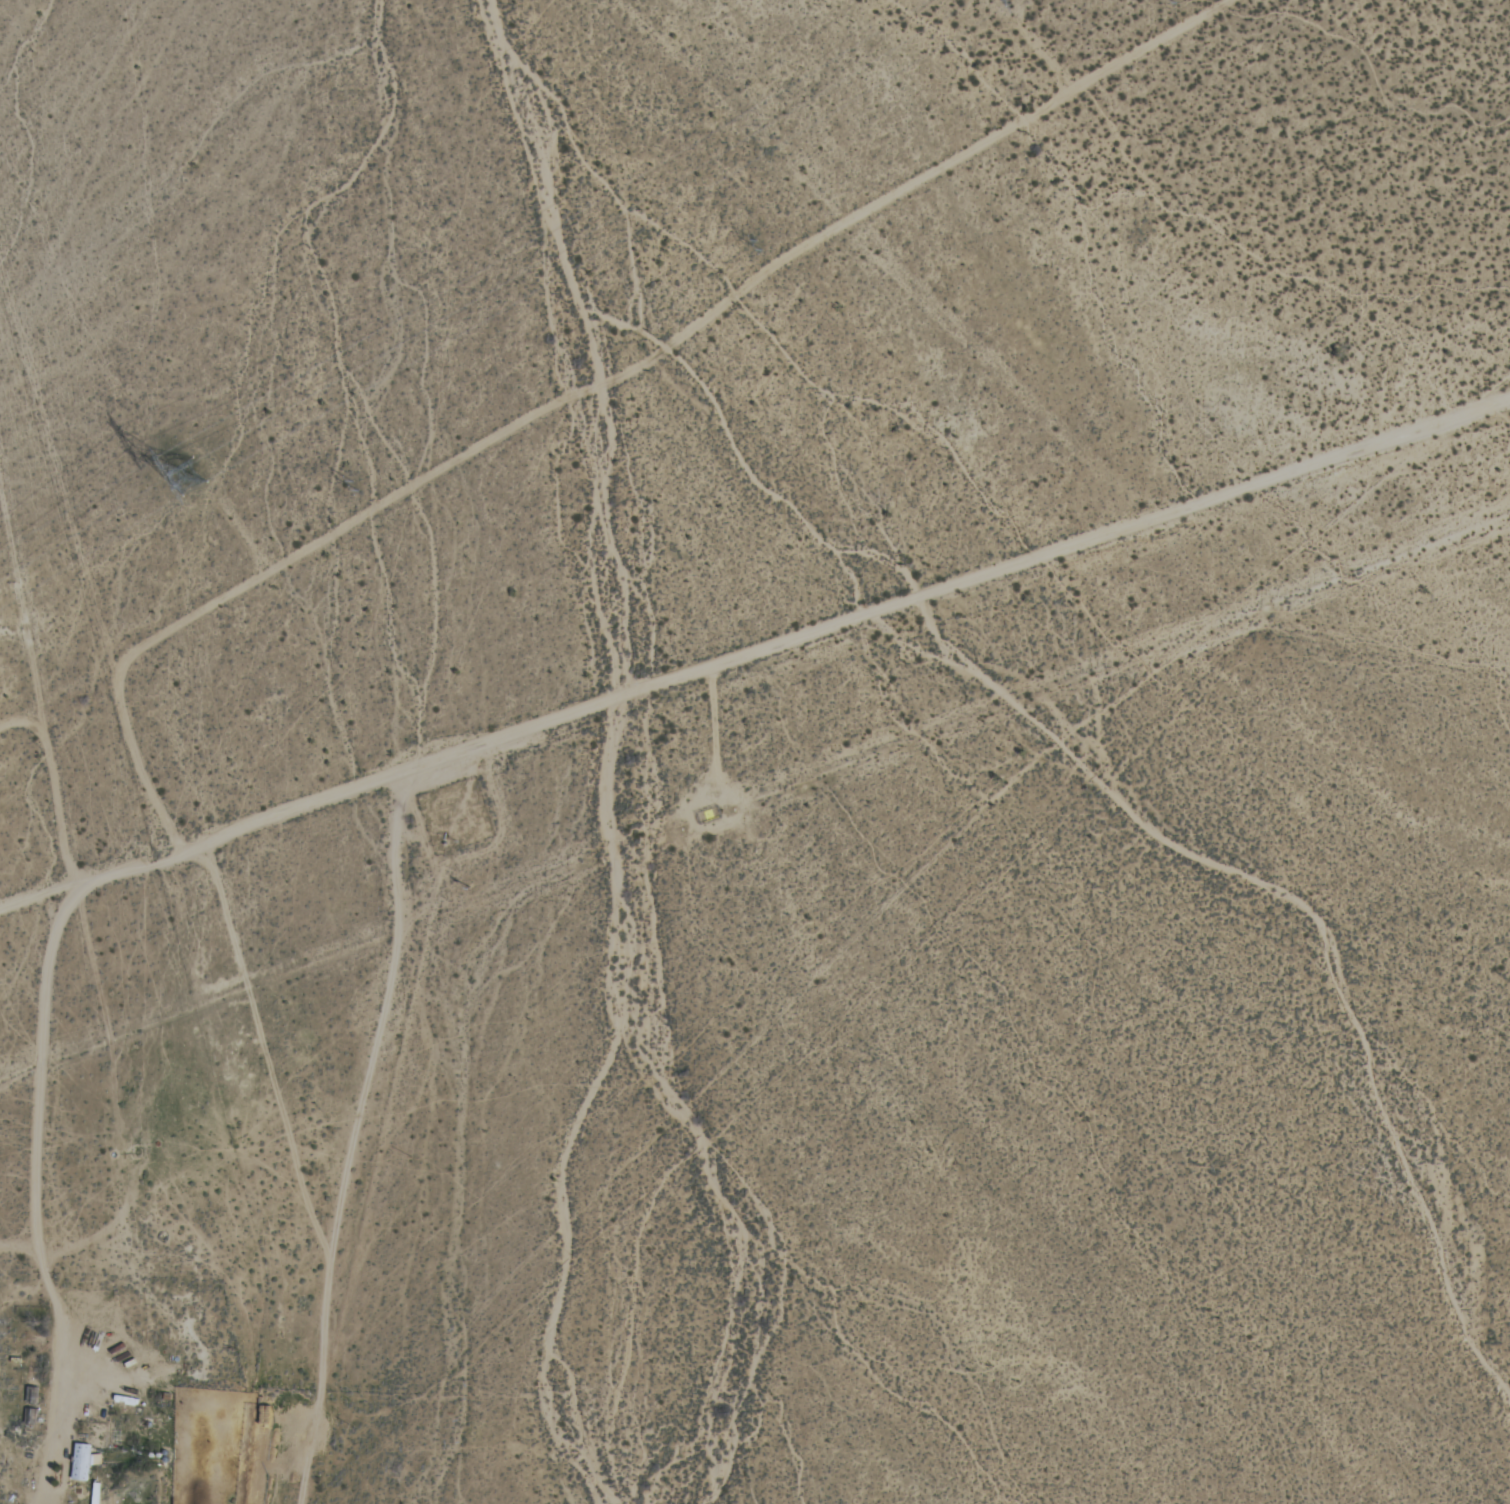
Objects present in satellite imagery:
power tower: (755, 243)
power tower: (175, 482)
power tower: (344, 486)
road: (755, 654)
building: (82, 1460)

